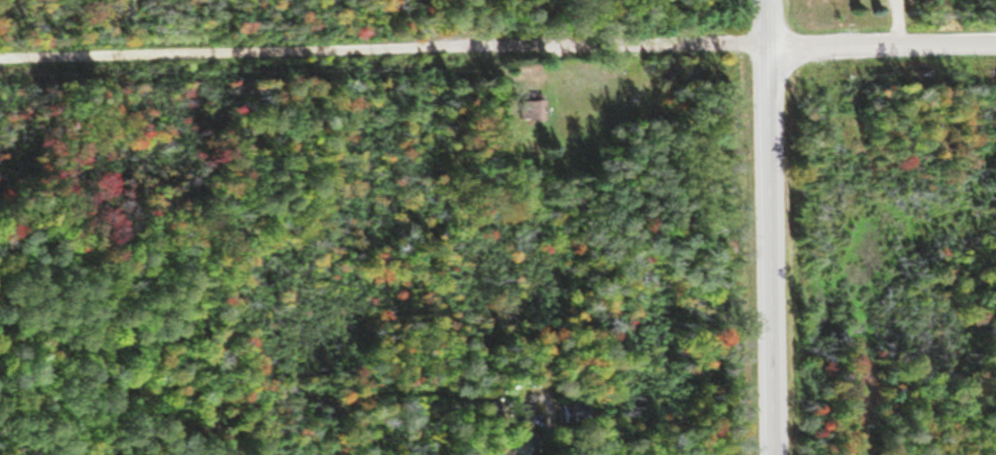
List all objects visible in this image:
road: (497, 45)
building: (531, 109)
road: (775, 227)
road: (203, 228)
building: (577, 411)

